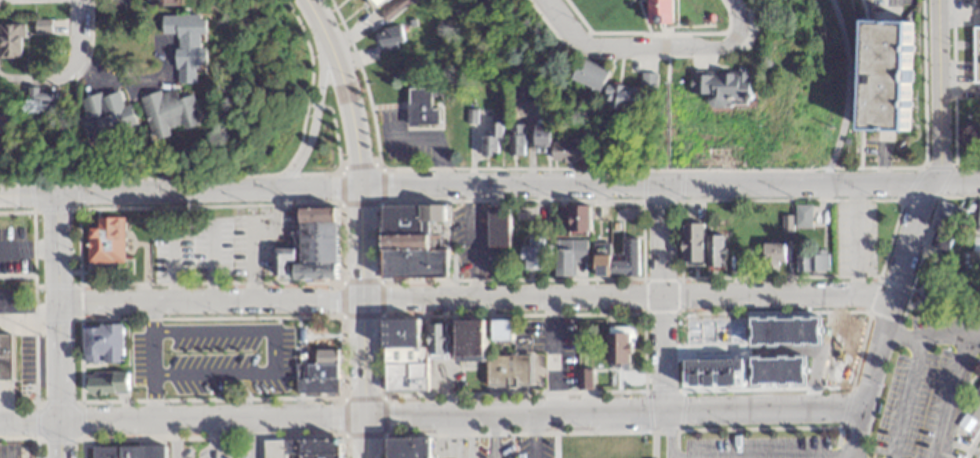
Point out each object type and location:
road: (126, 2)
building: (156, 3)
building: (376, 3)
building: (657, 14)
road: (311, 17)
street lamp: (306, 30)
road: (733, 33)
building: (390, 39)
building: (9, 43)
building: (183, 48)
road: (613, 49)
building: (976, 53)
road: (66, 67)
road: (664, 68)
street lamp: (352, 70)
building: (590, 78)
building: (884, 78)
park: (963, 83)
road: (139, 84)
building: (647, 84)
road: (70, 85)
road: (950, 85)
building: (720, 90)
road: (844, 91)
building: (621, 100)
building: (35, 105)
road: (347, 108)
building: (421, 109)
road: (314, 115)
building: (167, 116)
building: (6, 119)
building: (105, 121)
road: (922, 133)
building: (541, 136)
building: (515, 141)
building: (489, 142)
building: (565, 152)
road: (966, 171)
road: (902, 182)
road: (742, 184)
road: (318, 186)
road: (509, 186)
road: (166, 190)
road: (27, 193)
building: (951, 212)
building: (802, 215)
building: (978, 216)
building: (578, 217)
road: (193, 223)
building: (497, 225)
road: (911, 231)
parking lot: (853, 236)
building: (104, 239)
road: (852, 239)
building: (412, 240)
road: (661, 240)
building: (690, 242)
building: (310, 246)
road: (56, 249)
building: (716, 250)
building: (772, 252)
building: (533, 254)
building: (568, 255)
building: (617, 259)
building: (811, 260)
road: (251, 263)
road: (776, 296)
road: (359, 301)
road: (28, 309)
road: (361, 321)
building: (499, 329)
building: (699, 331)
road: (930, 336)
building: (469, 339)
building: (435, 340)
building: (101, 342)
building: (616, 344)
road: (662, 352)
road: (552, 355)
building: (5, 356)
building: (389, 356)
road: (246, 360)
road: (287, 360)
road: (149, 362)
building: (513, 370)
building: (316, 371)
building: (193, 374)
road: (58, 381)
building: (105, 381)
parking lot: (926, 386)
street lamp: (849, 392)
road: (953, 395)
road: (905, 397)
building: (975, 405)
street lamp: (736, 413)
road: (459, 414)
road: (29, 421)
road: (667, 433)
road: (533, 435)
road: (468, 436)
road: (494, 436)
road: (174, 438)
road: (214, 438)
road: (254, 438)
road: (972, 444)
building: (583, 445)
road: (651, 445)
parking lot: (745, 446)
building: (406, 447)
parking lot: (513, 447)
road: (960, 447)
parking lot: (207, 448)
building: (300, 448)
road: (975, 449)
parking lot: (13, 450)
building: (127, 451)
parking lot: (845, 455)
road: (979, 457)

